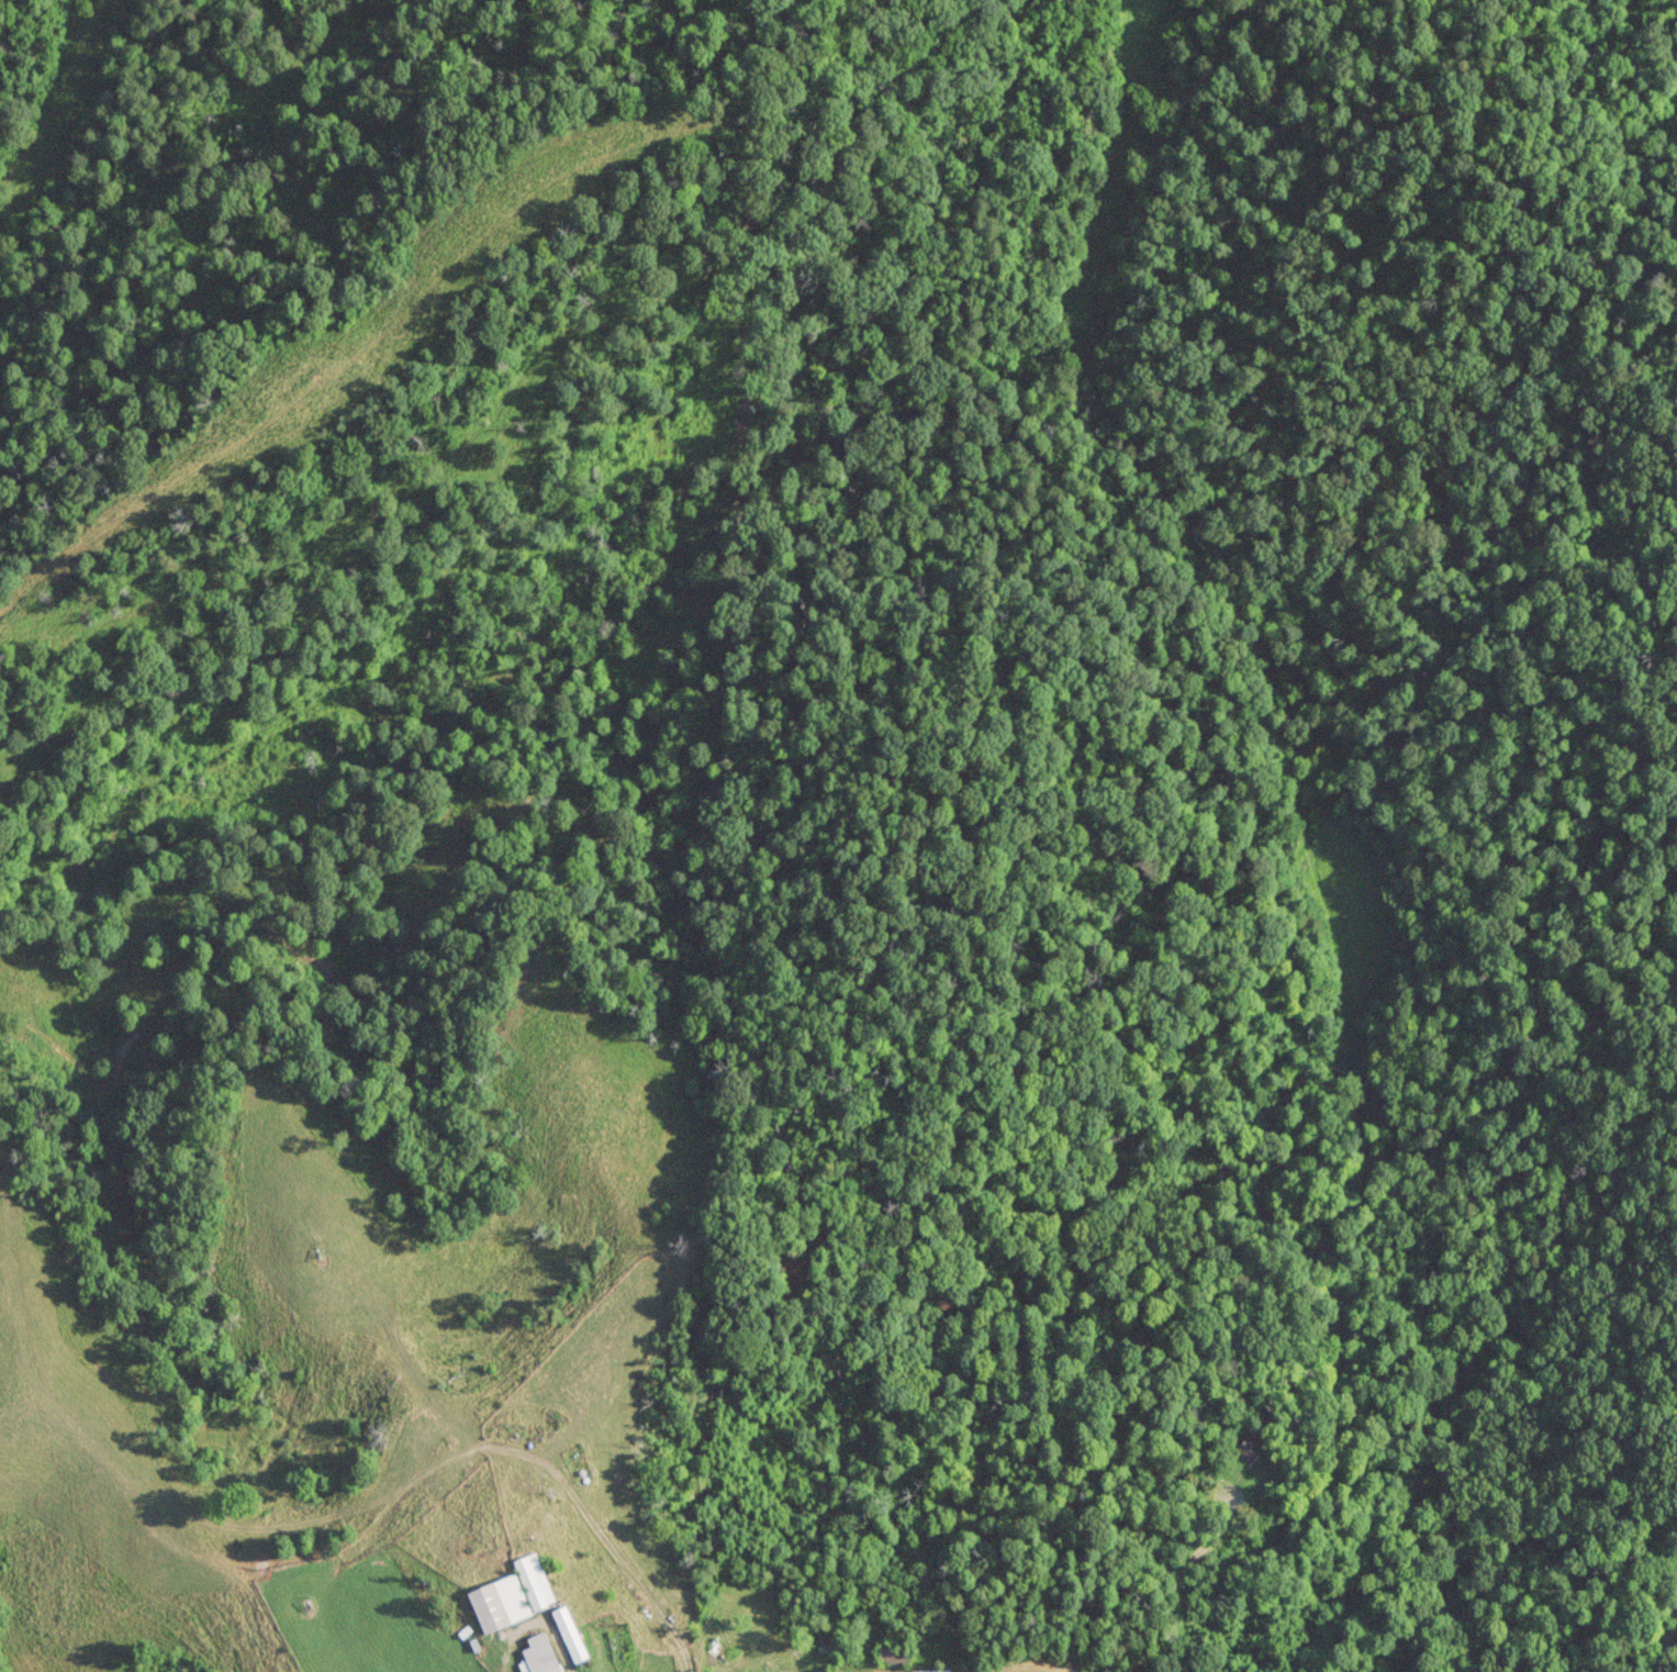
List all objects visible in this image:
building: (1246, 1447)
building: (1264, 1493)
building: (532, 1581)
building: (496, 1603)
building: (568, 1634)
building: (831, 1643)
road: (556, 1646)
building: (891, 1652)
building: (537, 1654)

